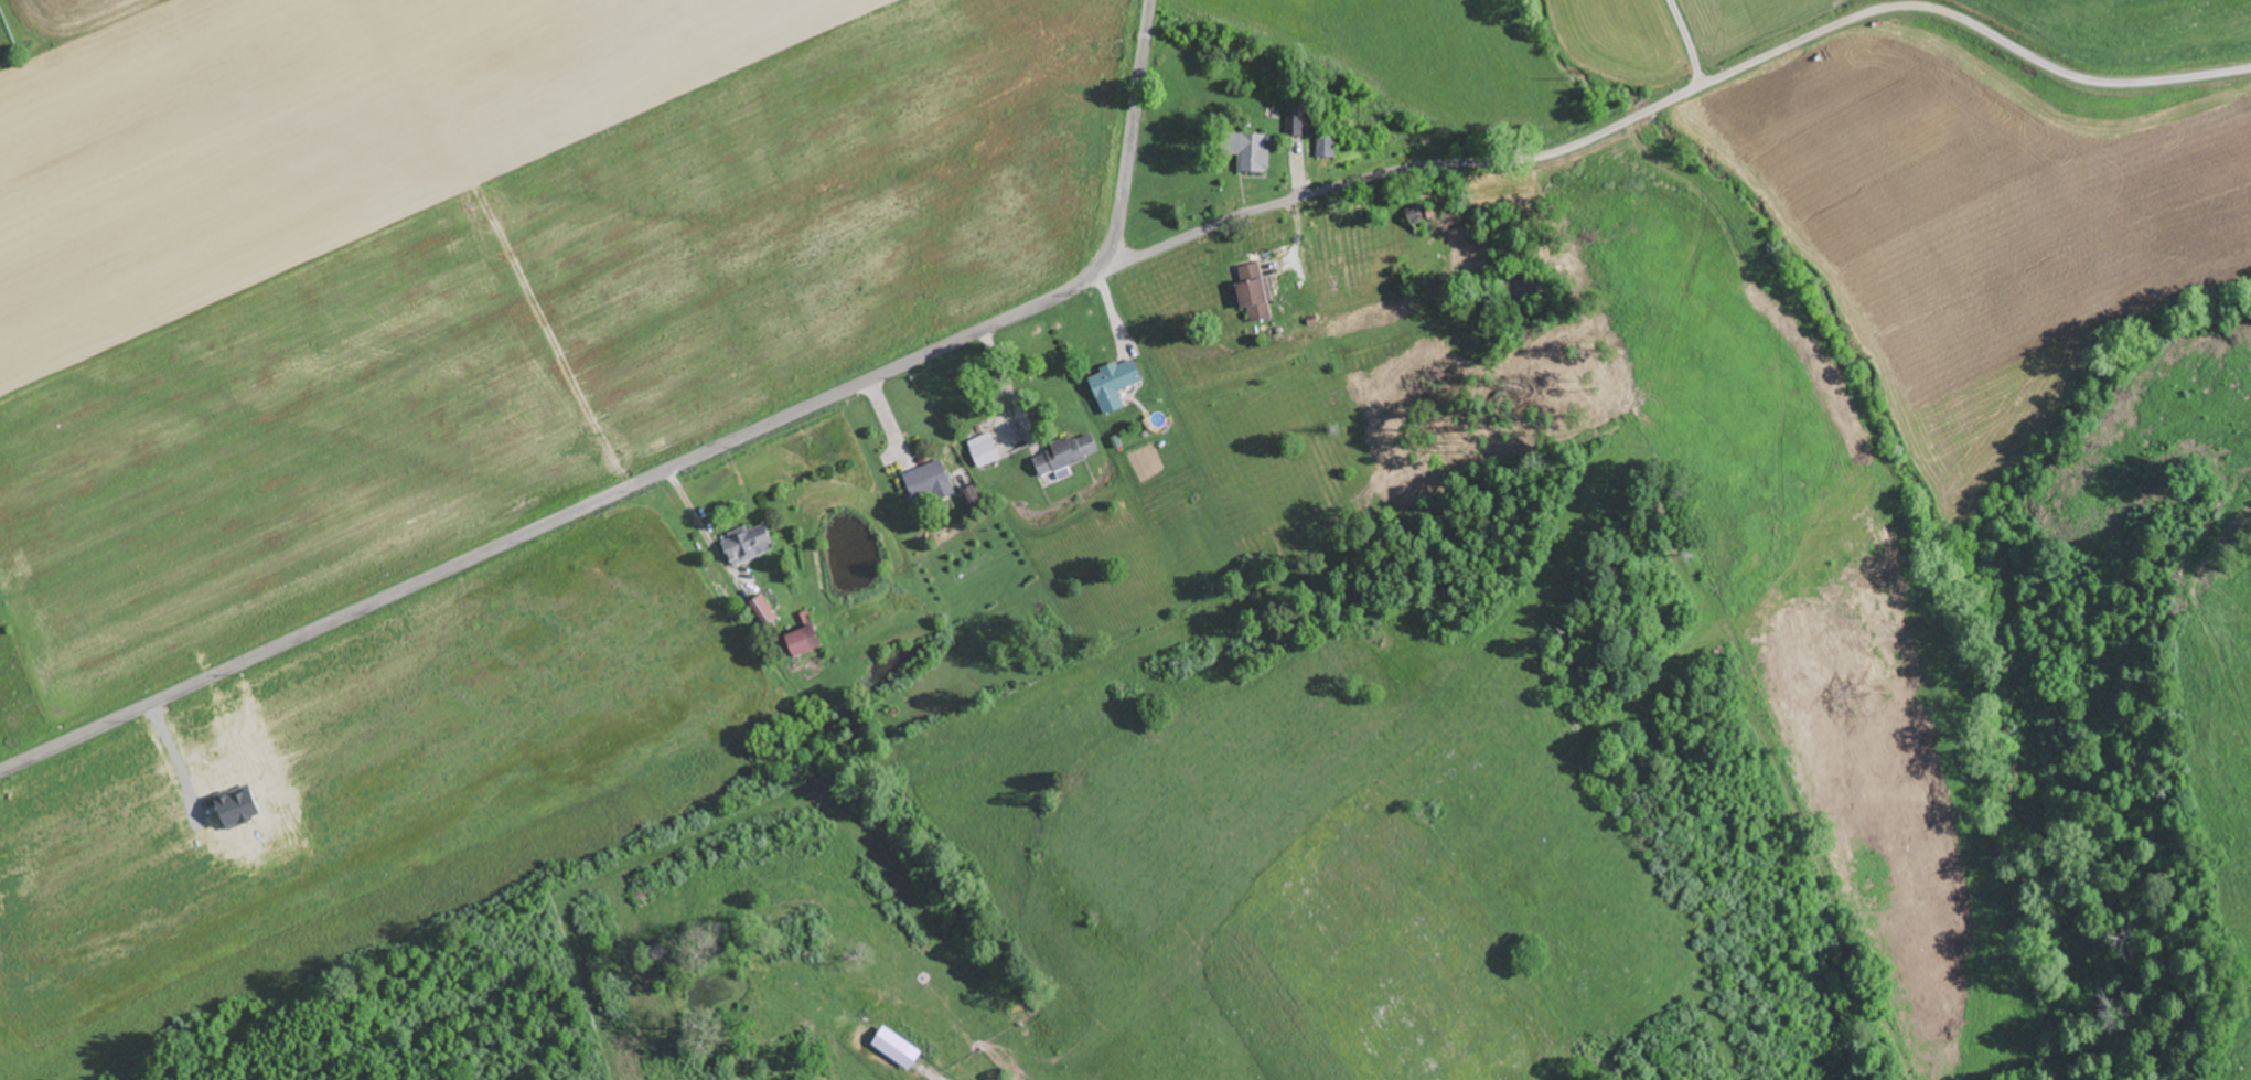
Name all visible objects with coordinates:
road: (1727, 32)
road: (1671, 99)
building: (1311, 126)
building: (1256, 152)
building: (1423, 216)
building: (1257, 292)
building: (1114, 384)
building: (984, 449)
building: (1068, 453)
road: (675, 466)
building: (930, 480)
road: (708, 528)
building: (754, 545)
building: (762, 611)
building: (798, 643)

